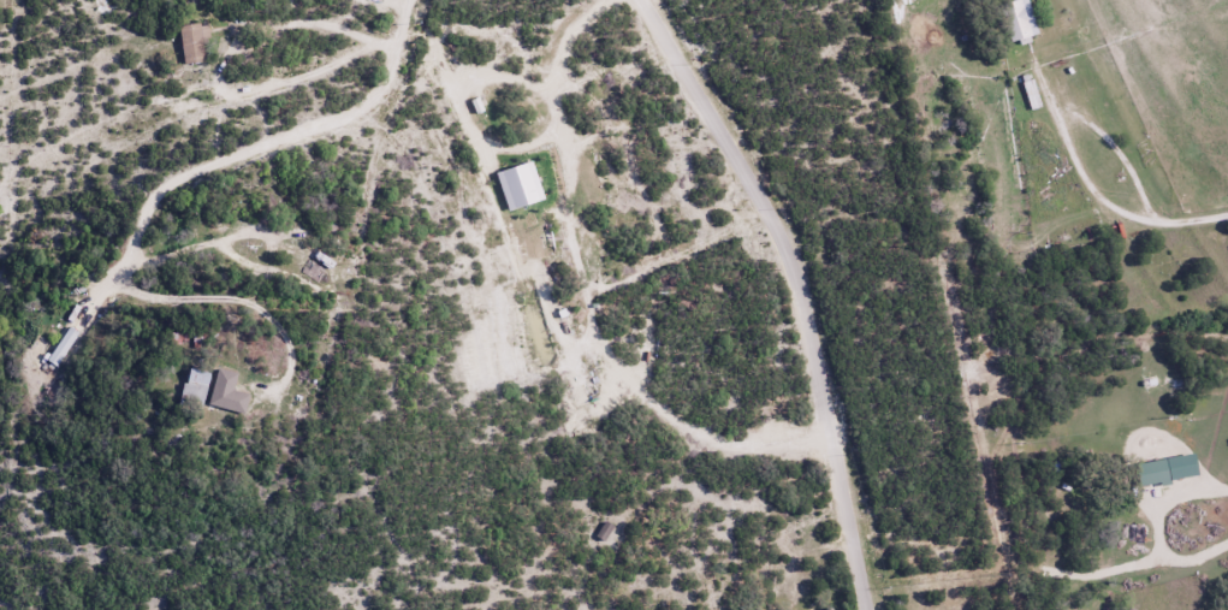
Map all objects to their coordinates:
building: (1016, 20)
building: (191, 43)
road: (809, 288)
road: (583, 303)
building: (61, 347)
building: (194, 386)
building: (225, 391)

